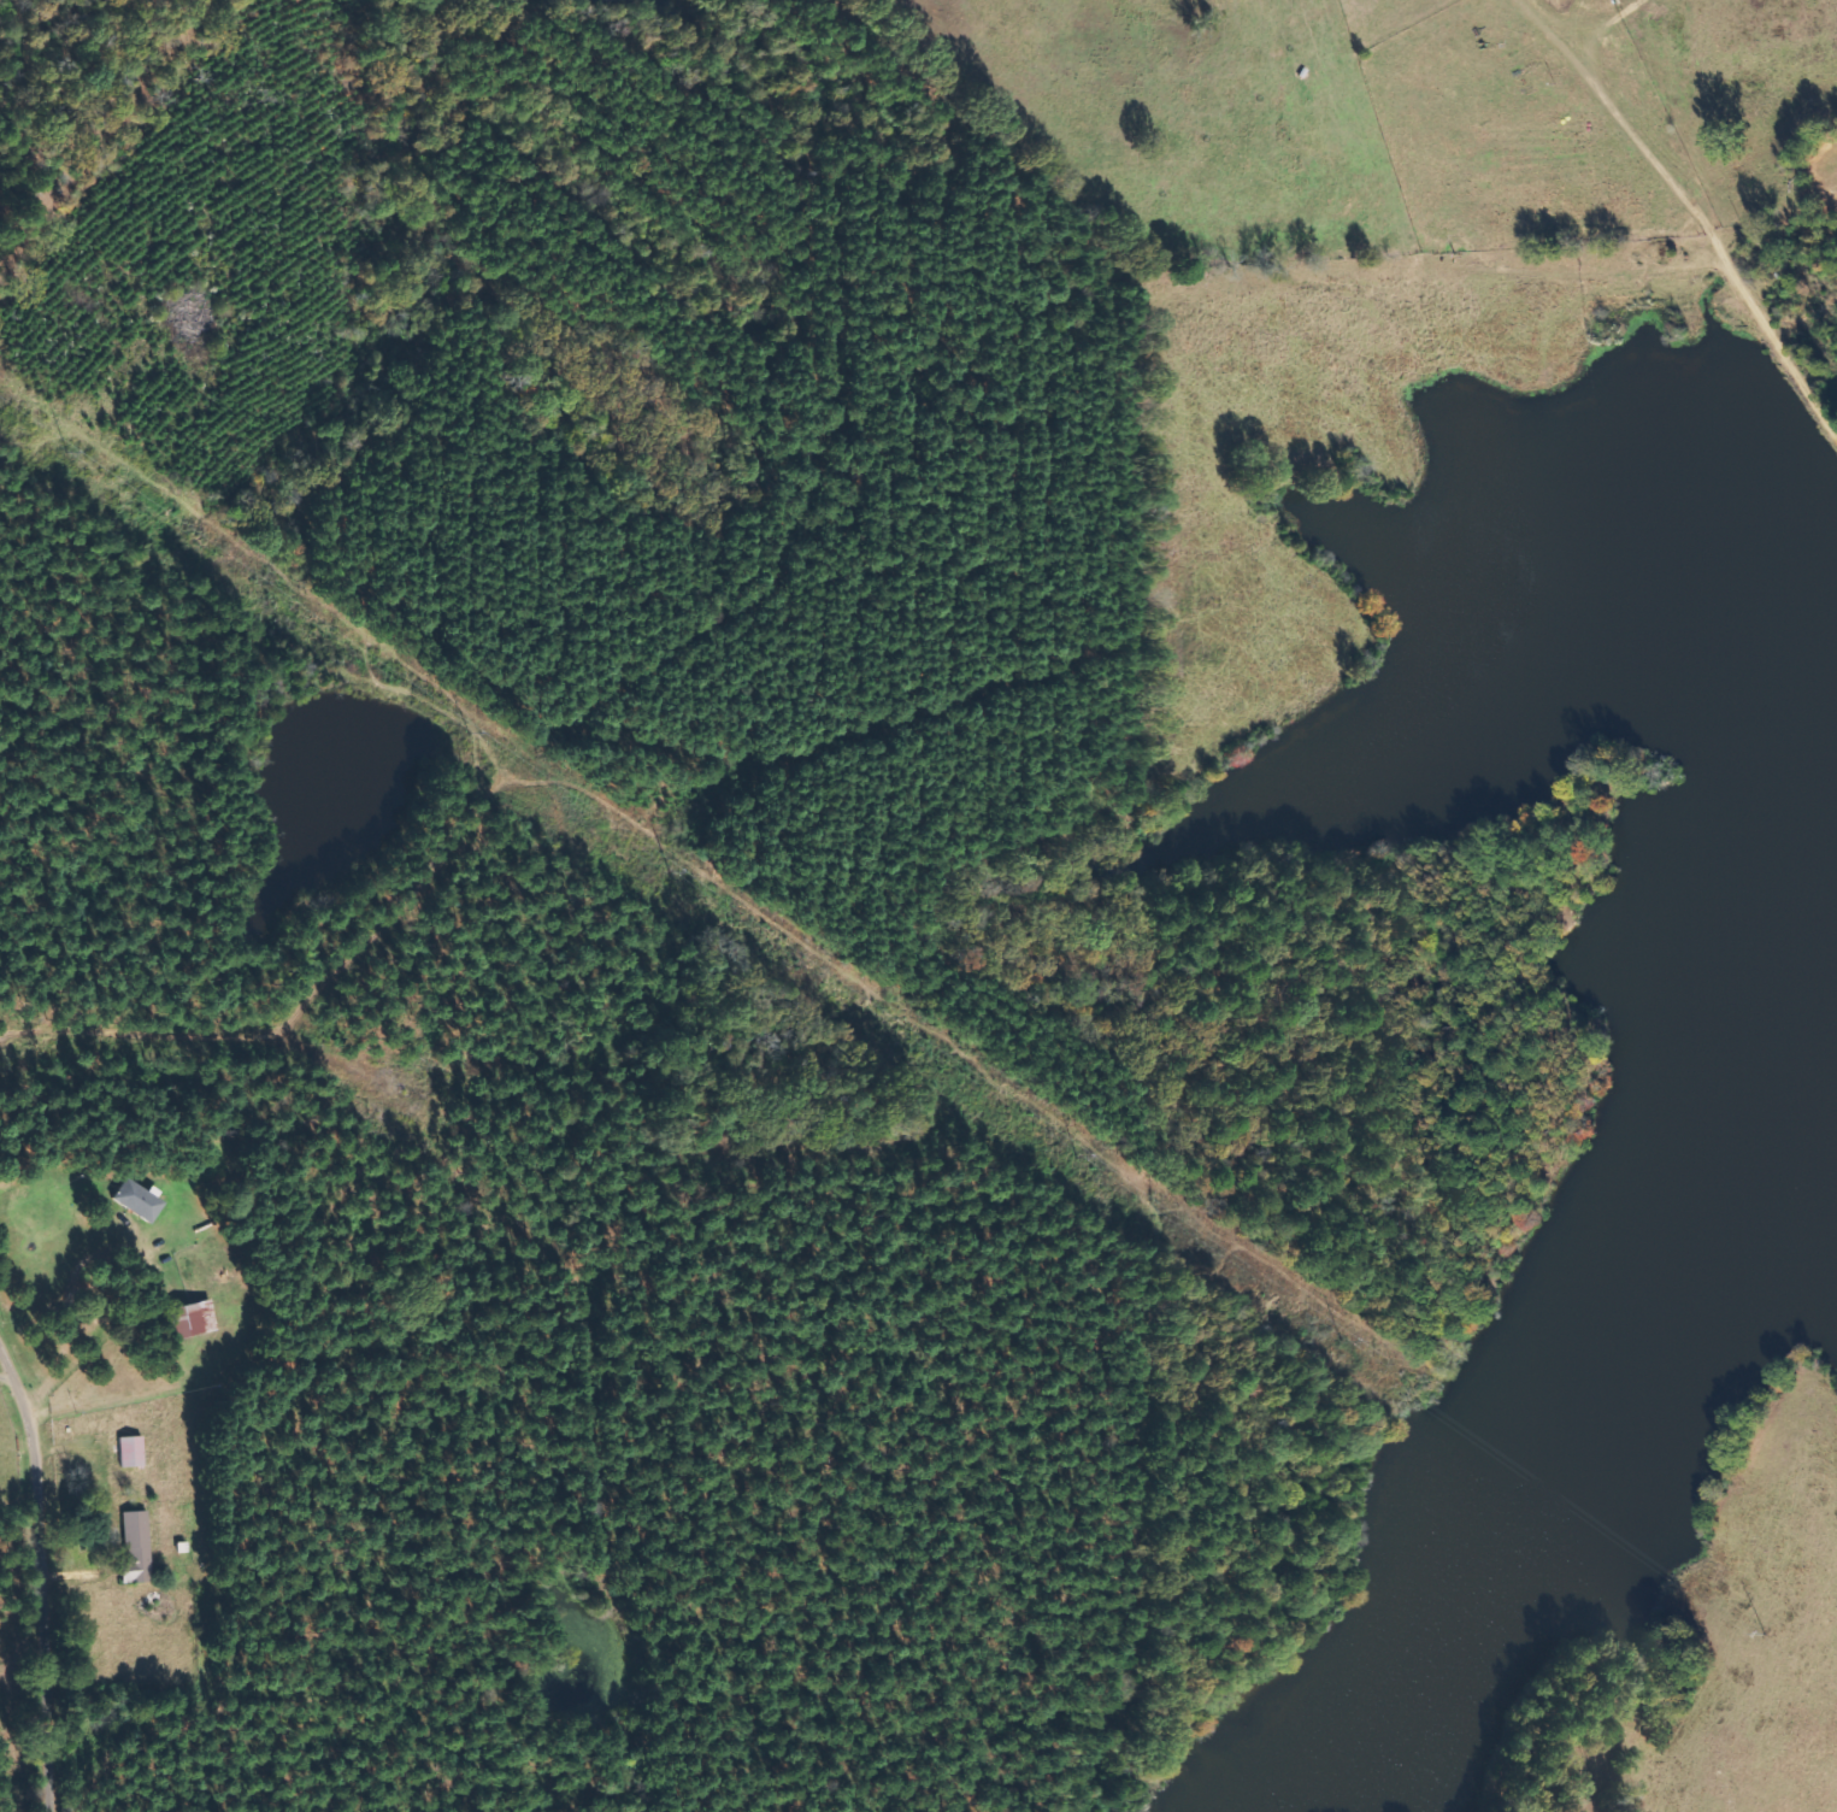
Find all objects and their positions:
building: (134, 1199)
building: (188, 1318)
road: (493, 1419)
building: (126, 1451)
building: (133, 1548)
road: (51, 1567)

